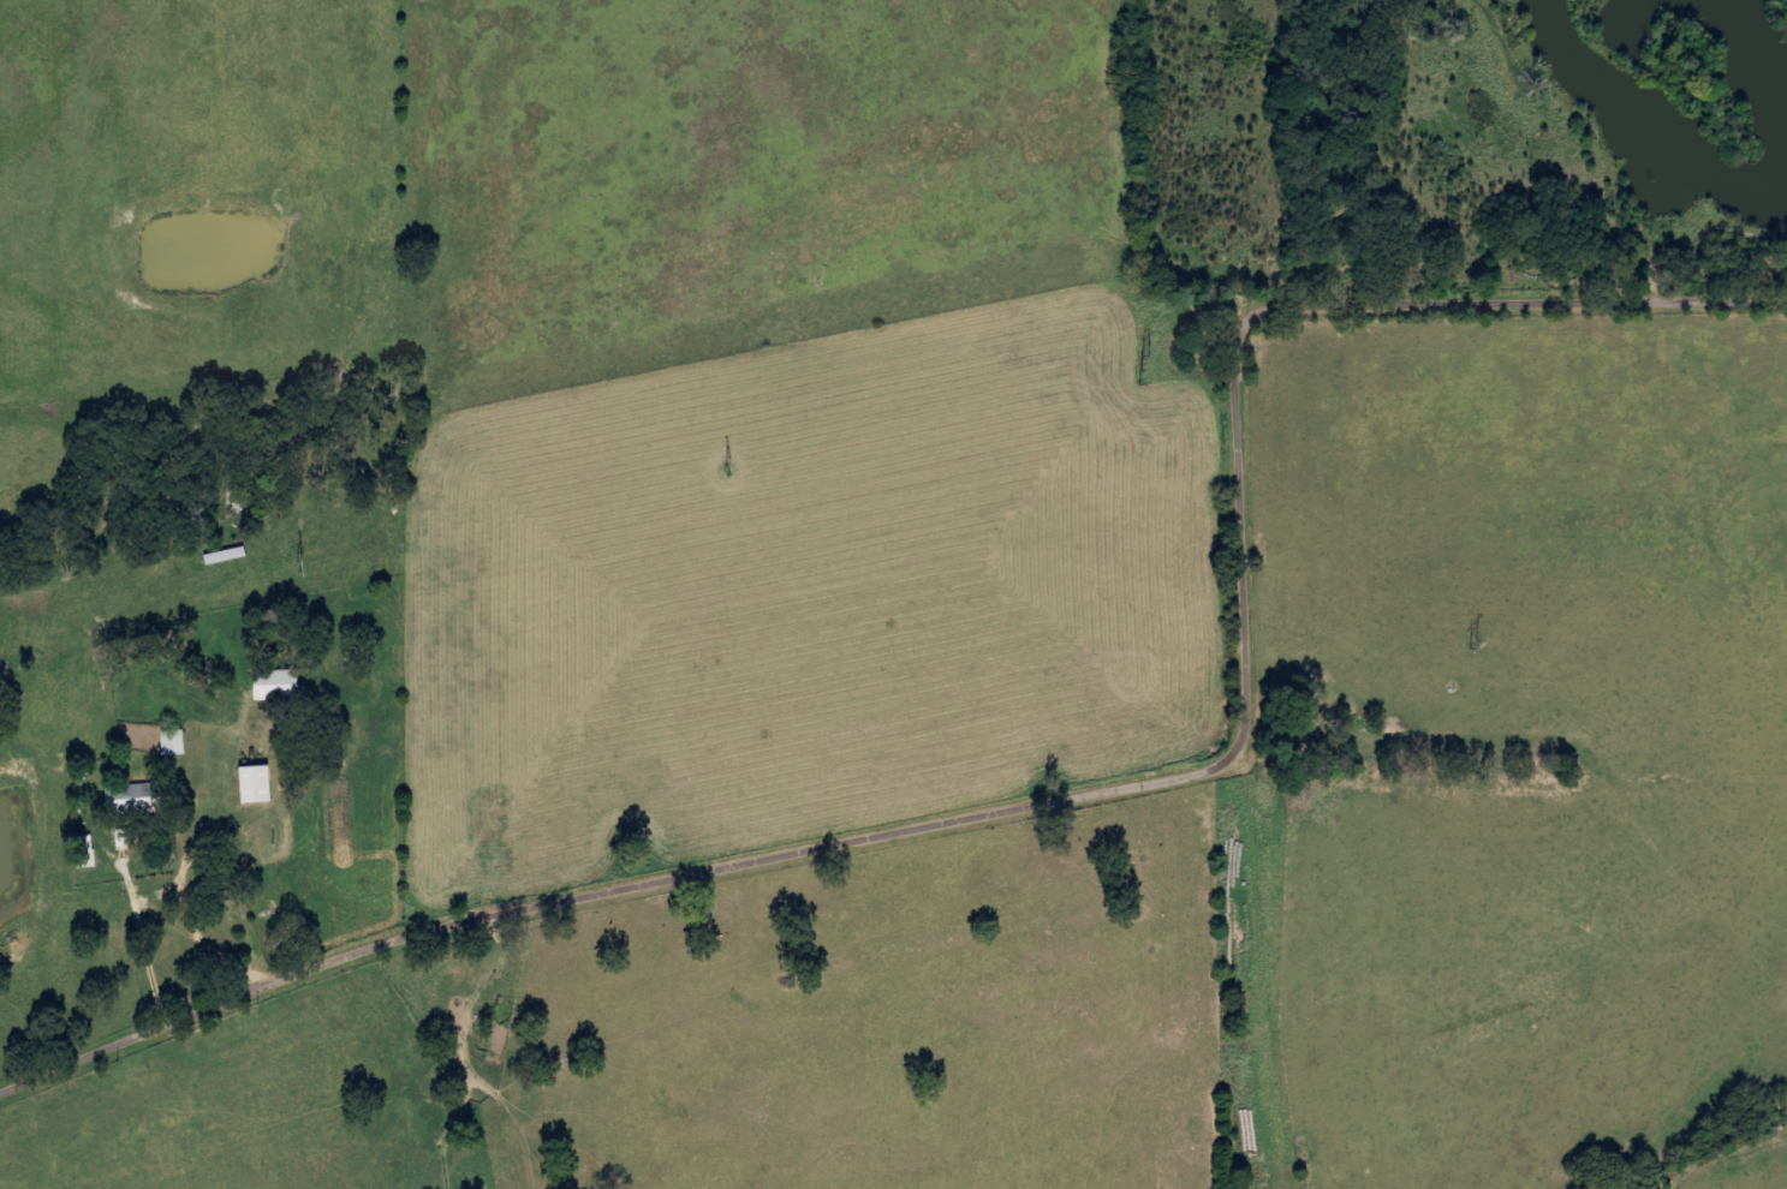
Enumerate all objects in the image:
power tower: (1140, 370)
power tower: (726, 467)
power tower: (300, 561)
power tower: (1473, 644)
building: (276, 685)
road: (1220, 685)
building: (174, 742)
building: (255, 784)
building: (136, 799)
road: (189, 1018)

